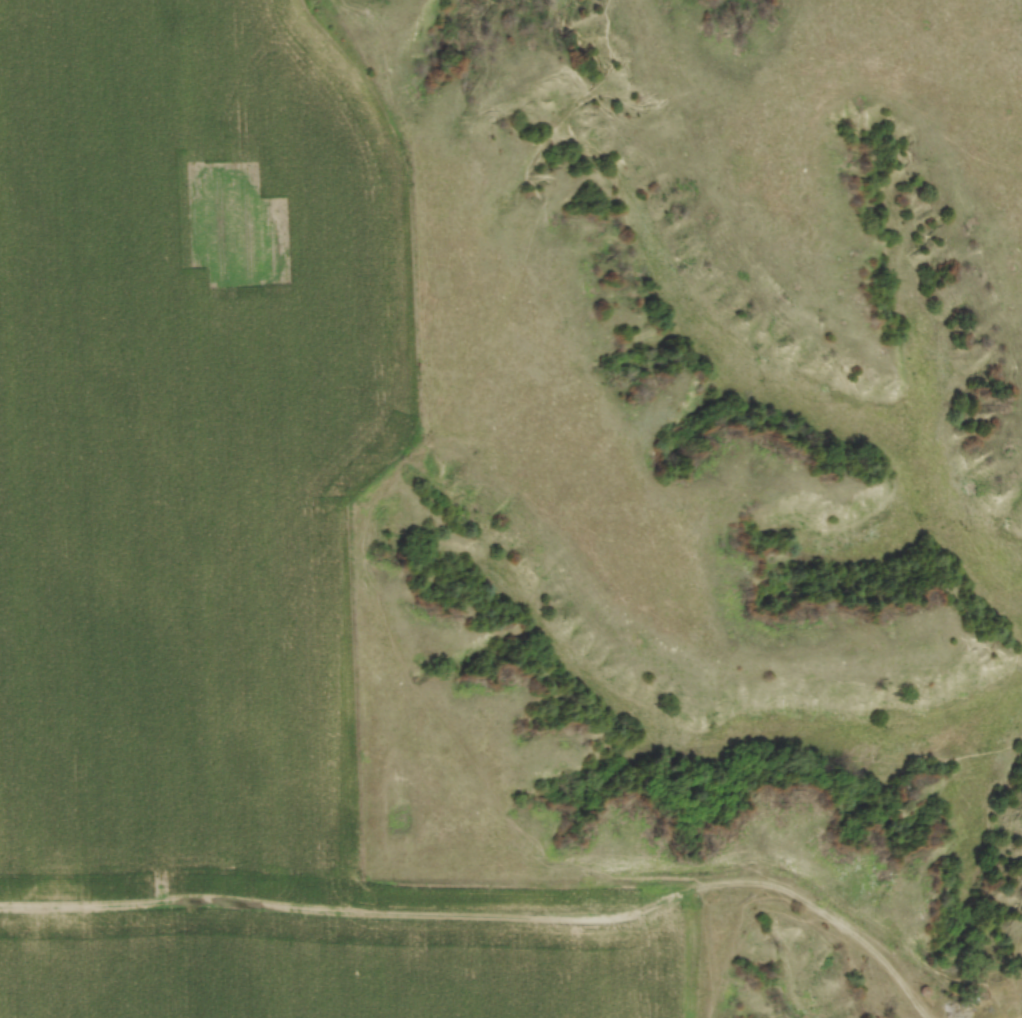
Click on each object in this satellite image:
building: (946, 1010)

